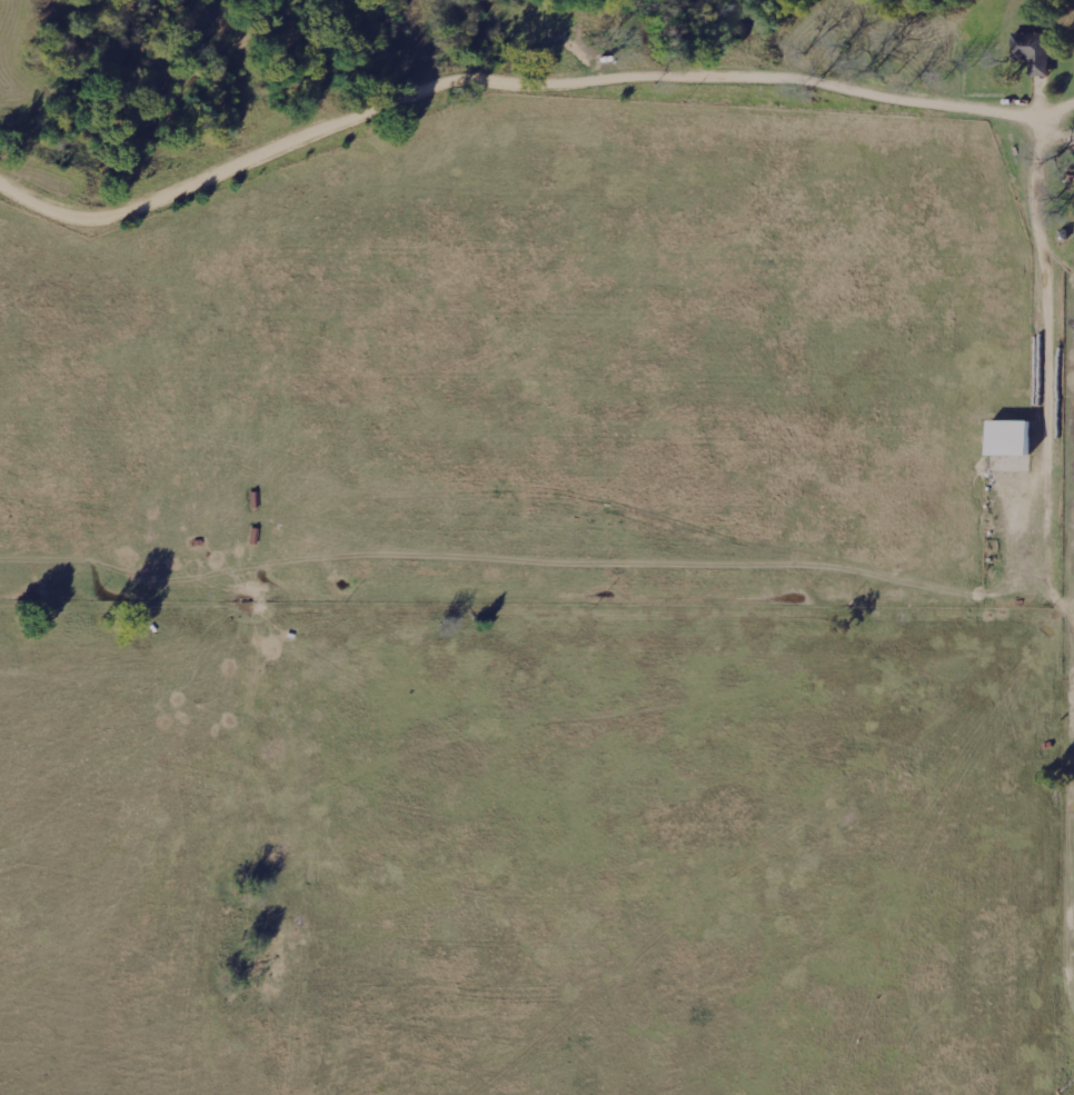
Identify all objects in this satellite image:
building: (1036, 50)
building: (1015, 437)

